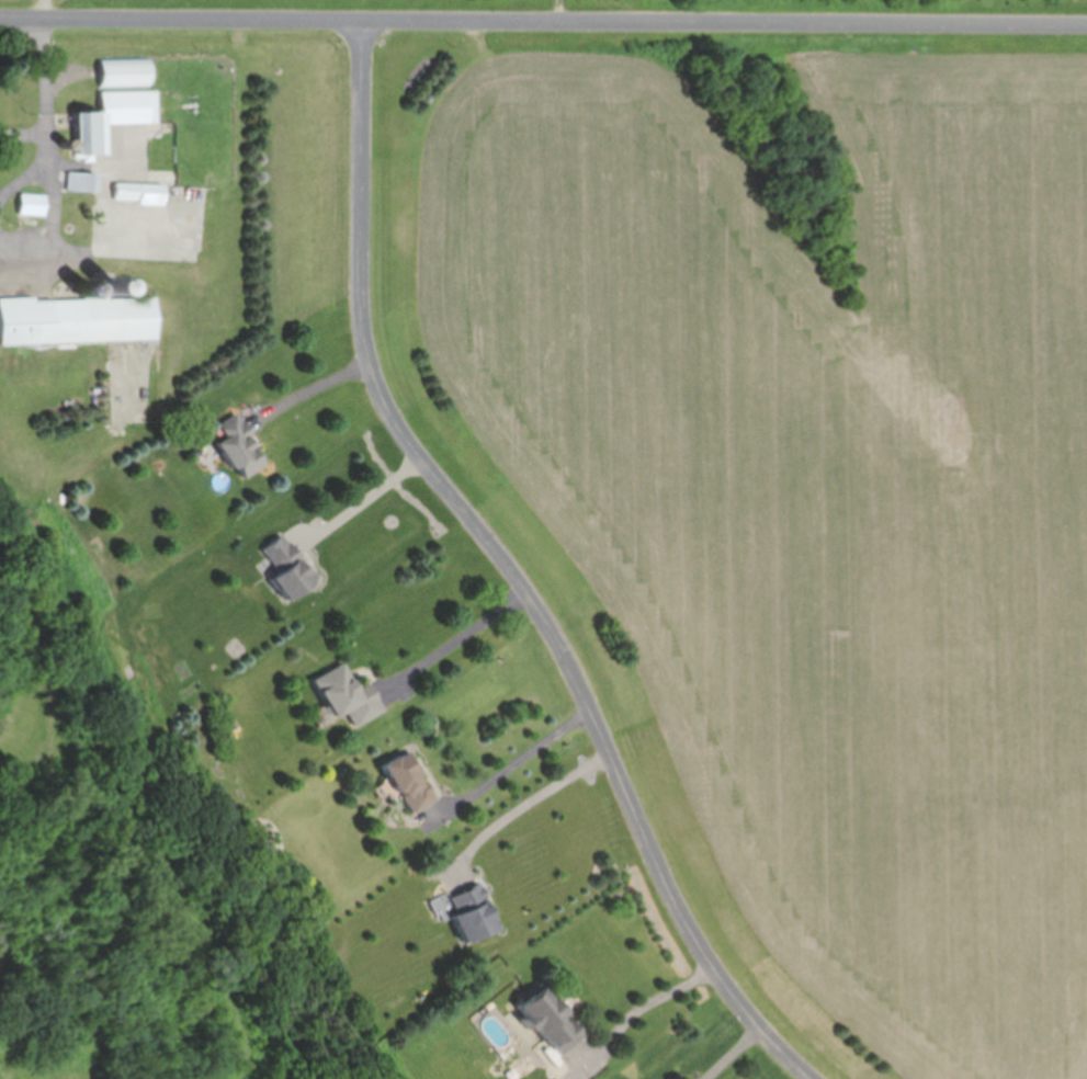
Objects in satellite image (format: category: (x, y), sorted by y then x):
road: (543, 20)
building: (122, 72)
road: (48, 92)
building: (111, 116)
building: (79, 181)
building: (137, 192)
road: (46, 227)
building: (76, 319)
road: (310, 389)
building: (238, 447)
road: (364, 499)
building: (286, 567)
road: (517, 569)
road: (467, 635)
building: (347, 695)
road: (516, 768)
building: (409, 782)
road: (529, 807)
building: (474, 913)
road: (653, 1001)
building: (550, 1021)
road: (737, 1053)

